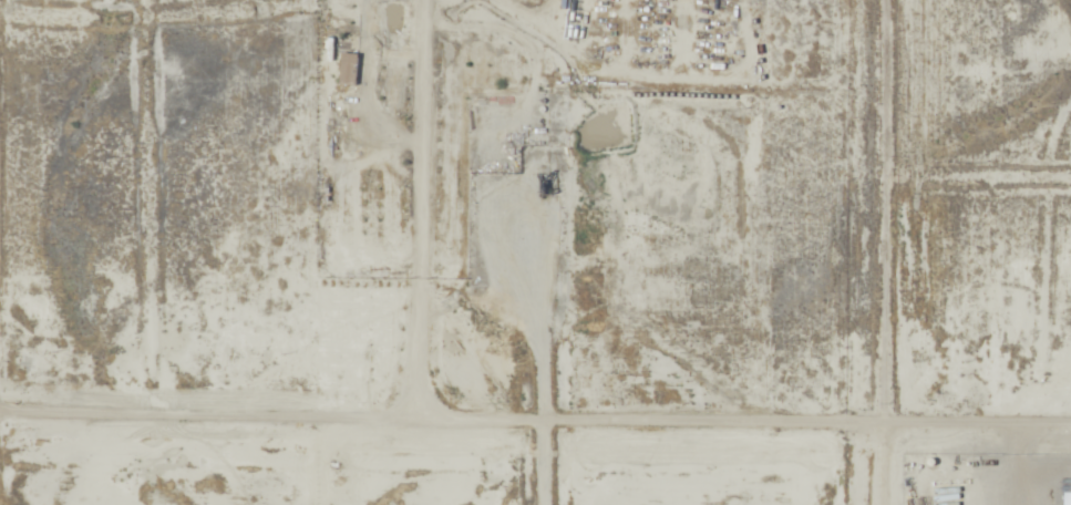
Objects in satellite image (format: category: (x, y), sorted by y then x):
road: (977, 182)
road: (428, 227)
road: (878, 252)
road: (535, 425)
road: (550, 465)
road: (1015, 468)

